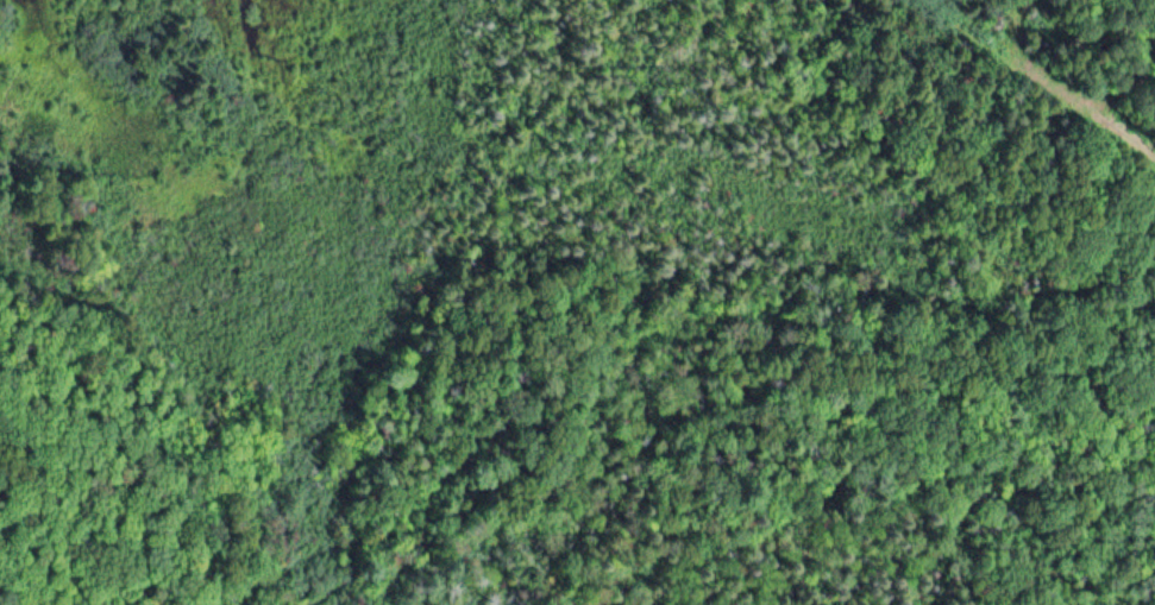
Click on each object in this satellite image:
road: (1035, 81)

